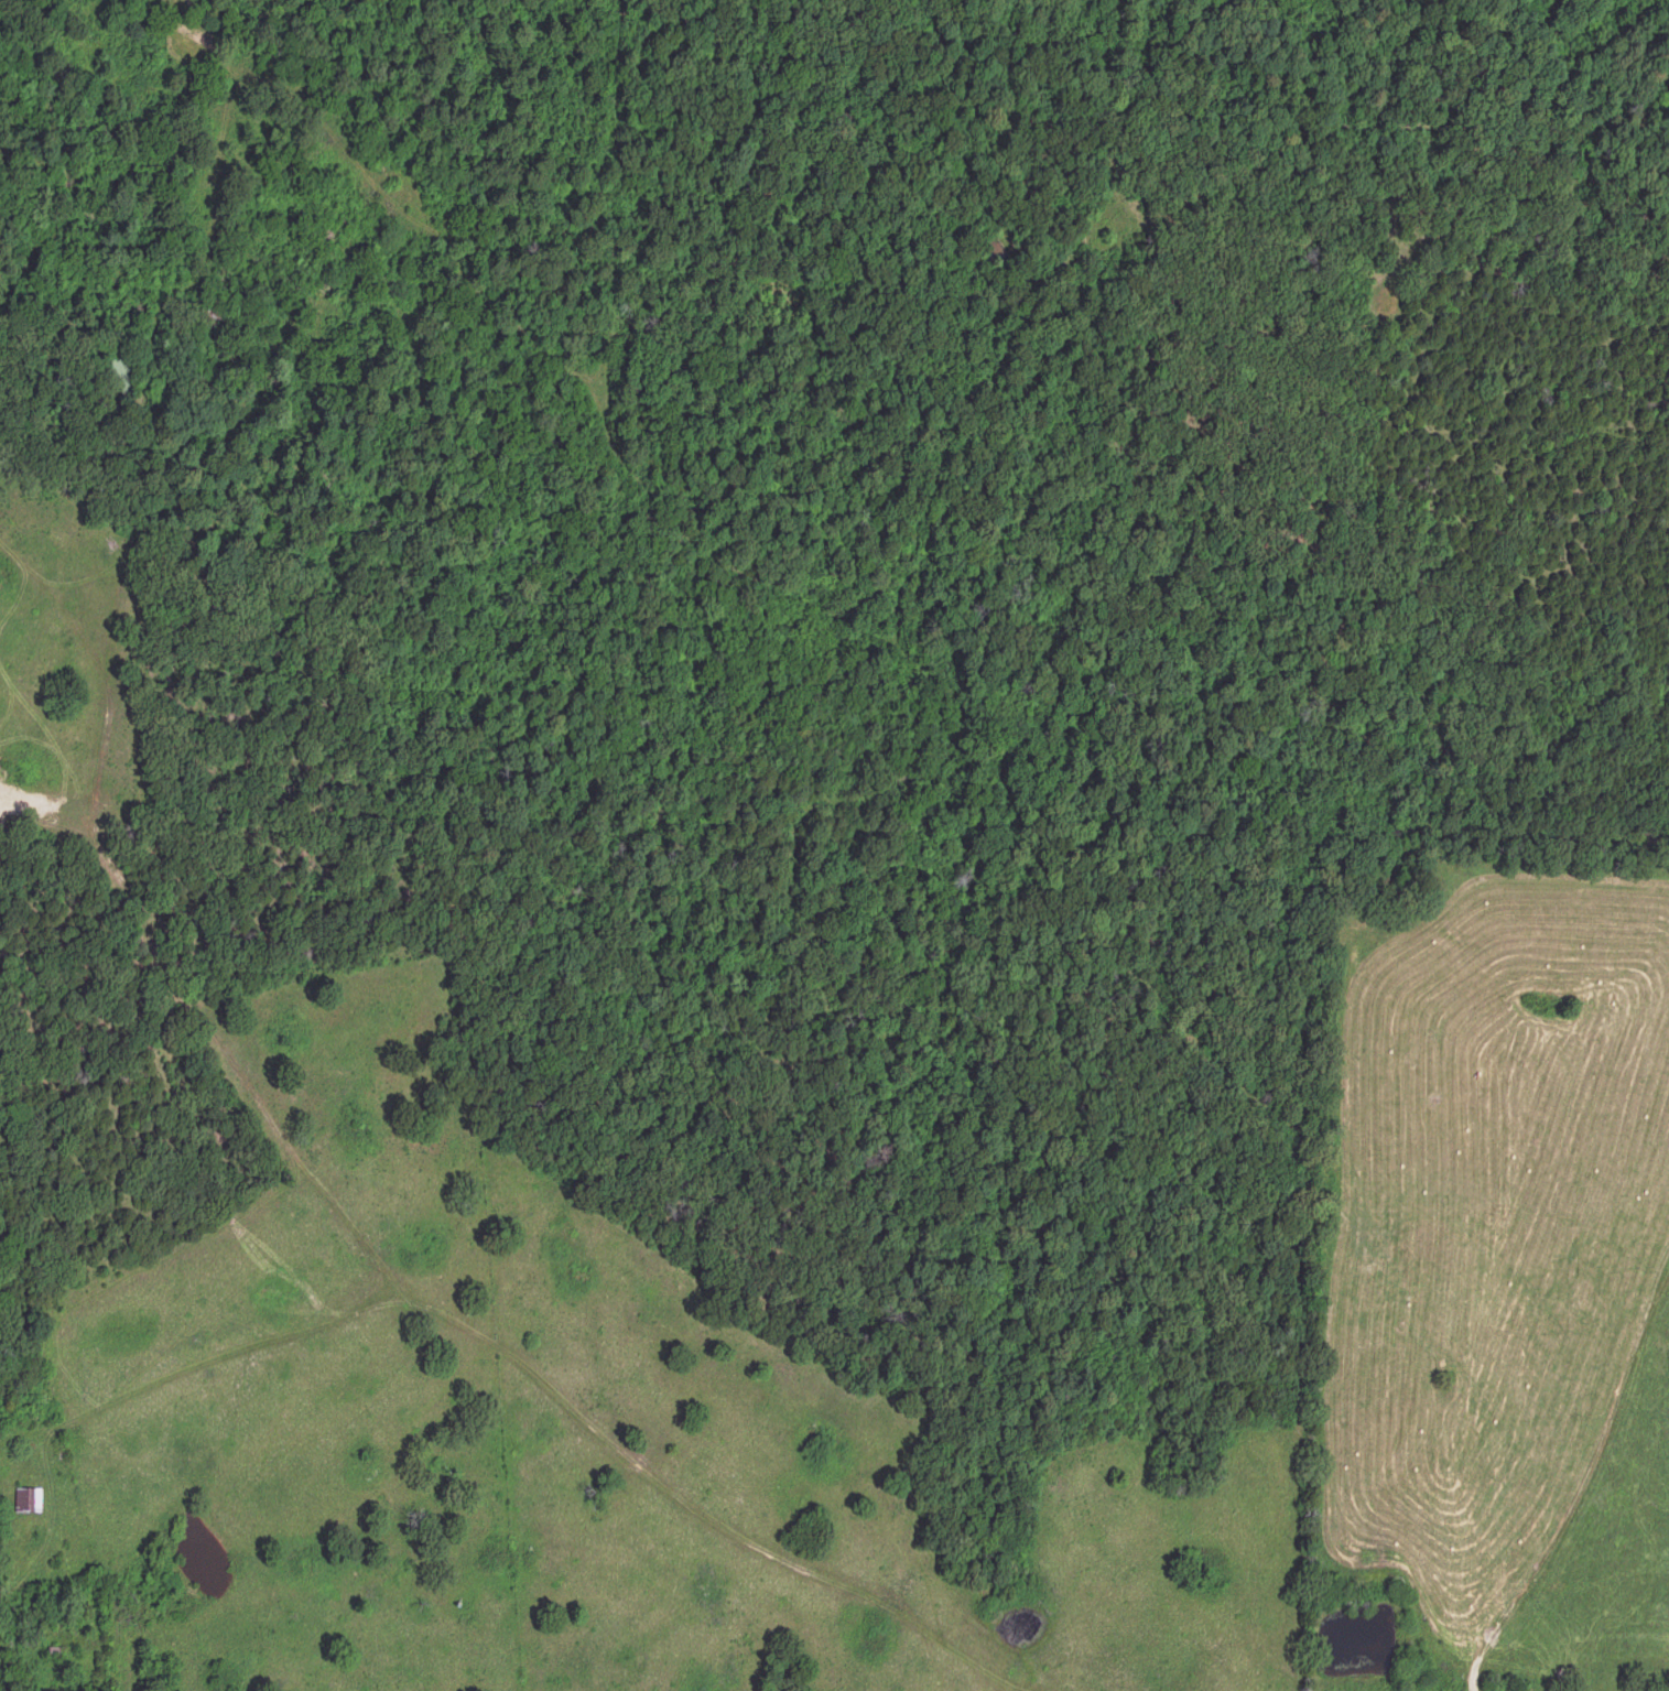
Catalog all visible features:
building: (31, 1502)

